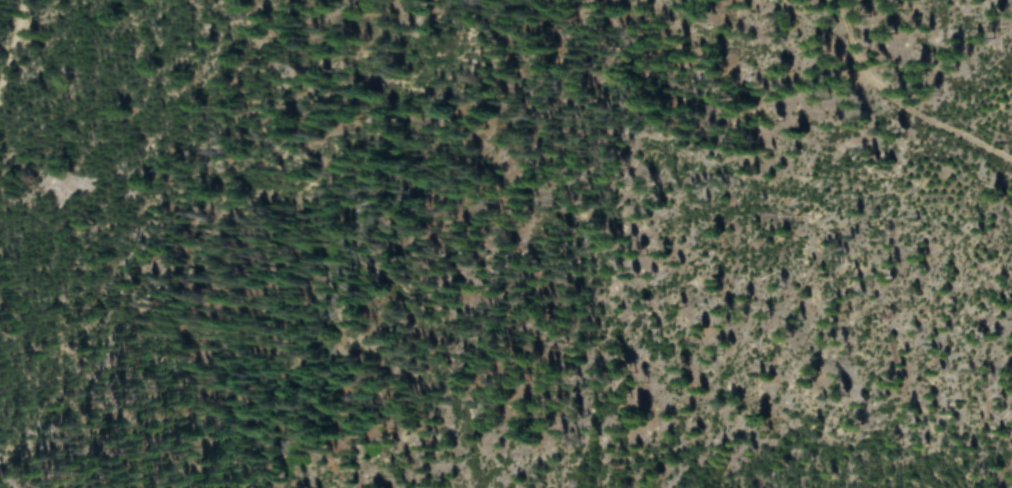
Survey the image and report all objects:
road: (27, 86)

